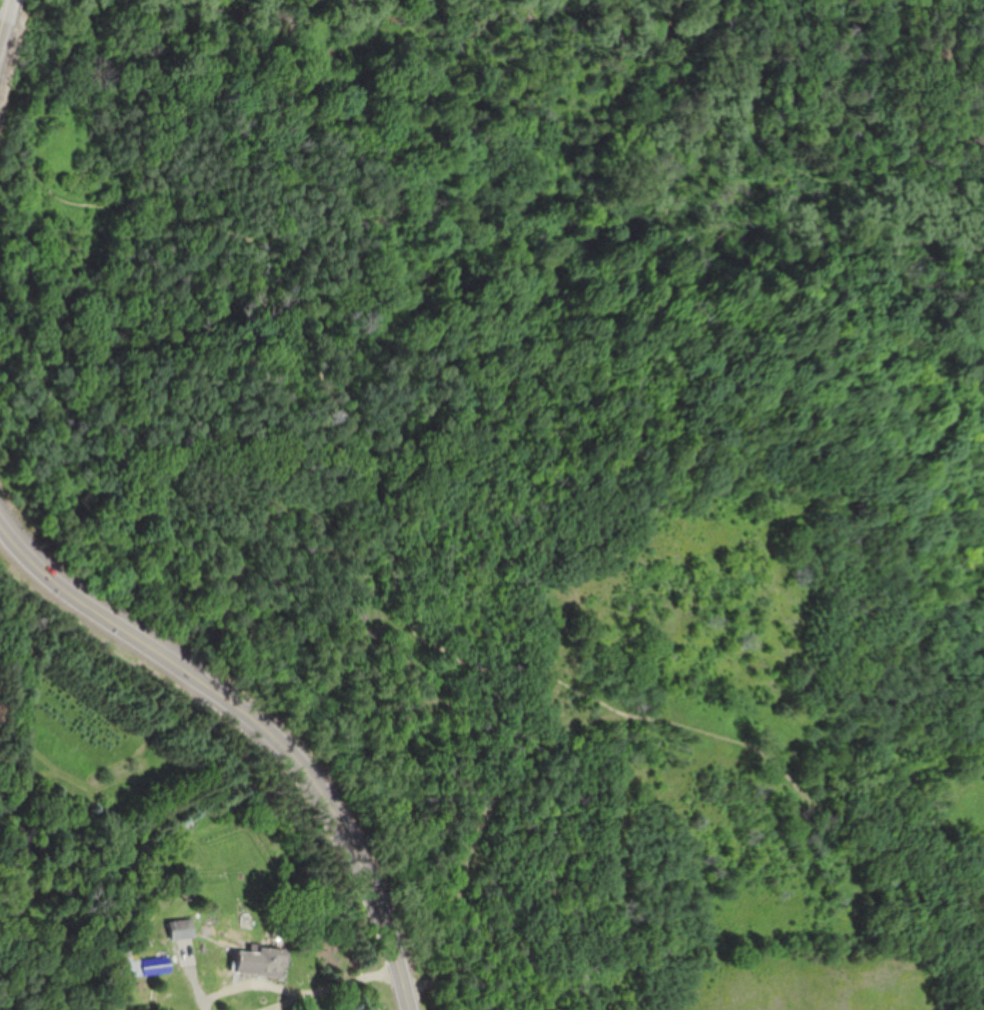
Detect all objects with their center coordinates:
road: (3, 12)
road: (954, 52)
road: (983, 104)
road: (825, 162)
park: (539, 457)
road: (370, 538)
road: (259, 724)
building: (181, 928)
building: (262, 960)
building: (139, 964)
road: (265, 983)
road: (349, 985)

